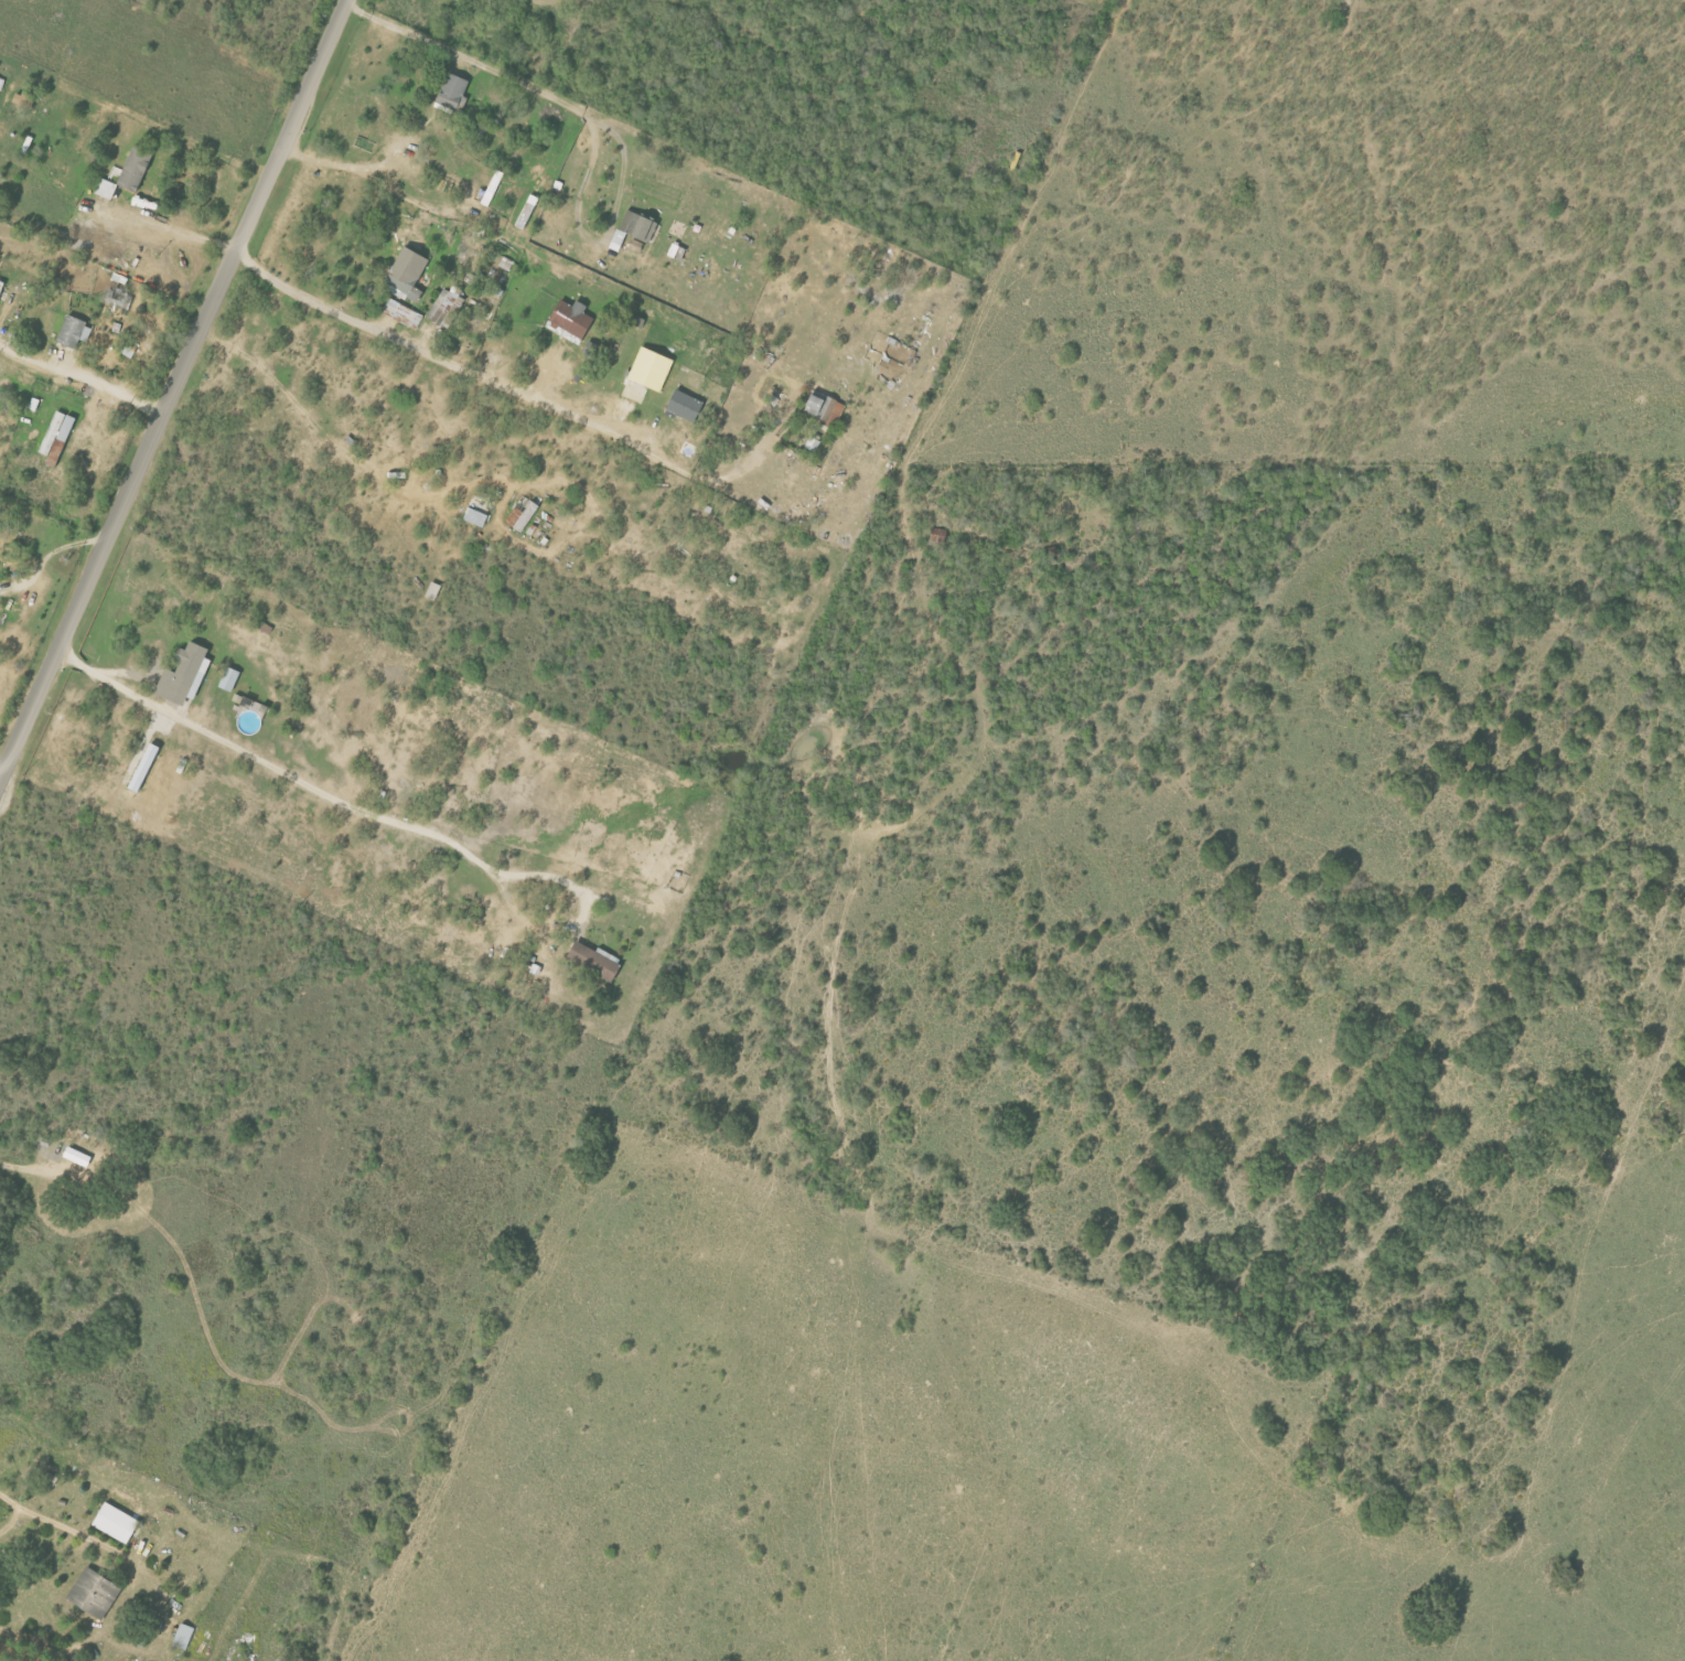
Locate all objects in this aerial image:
building: (1, 84)
building: (453, 93)
road: (597, 124)
building: (136, 168)
road: (377, 183)
building: (107, 189)
building: (528, 211)
road: (163, 227)
building: (635, 228)
building: (408, 275)
building: (442, 306)
building: (403, 313)
building: (572, 320)
building: (75, 332)
building: (653, 368)
road: (82, 379)
road: (494, 384)
road: (174, 390)
building: (686, 406)
building: (826, 408)
building: (58, 437)
building: (813, 443)
road: (461, 485)
building: (186, 674)
building: (230, 679)
road: (1, 775)
road: (286, 776)
building: (597, 961)
road: (20, 1168)
building: (118, 1522)
road: (65, 1530)
building: (95, 1592)
building: (185, 1636)

